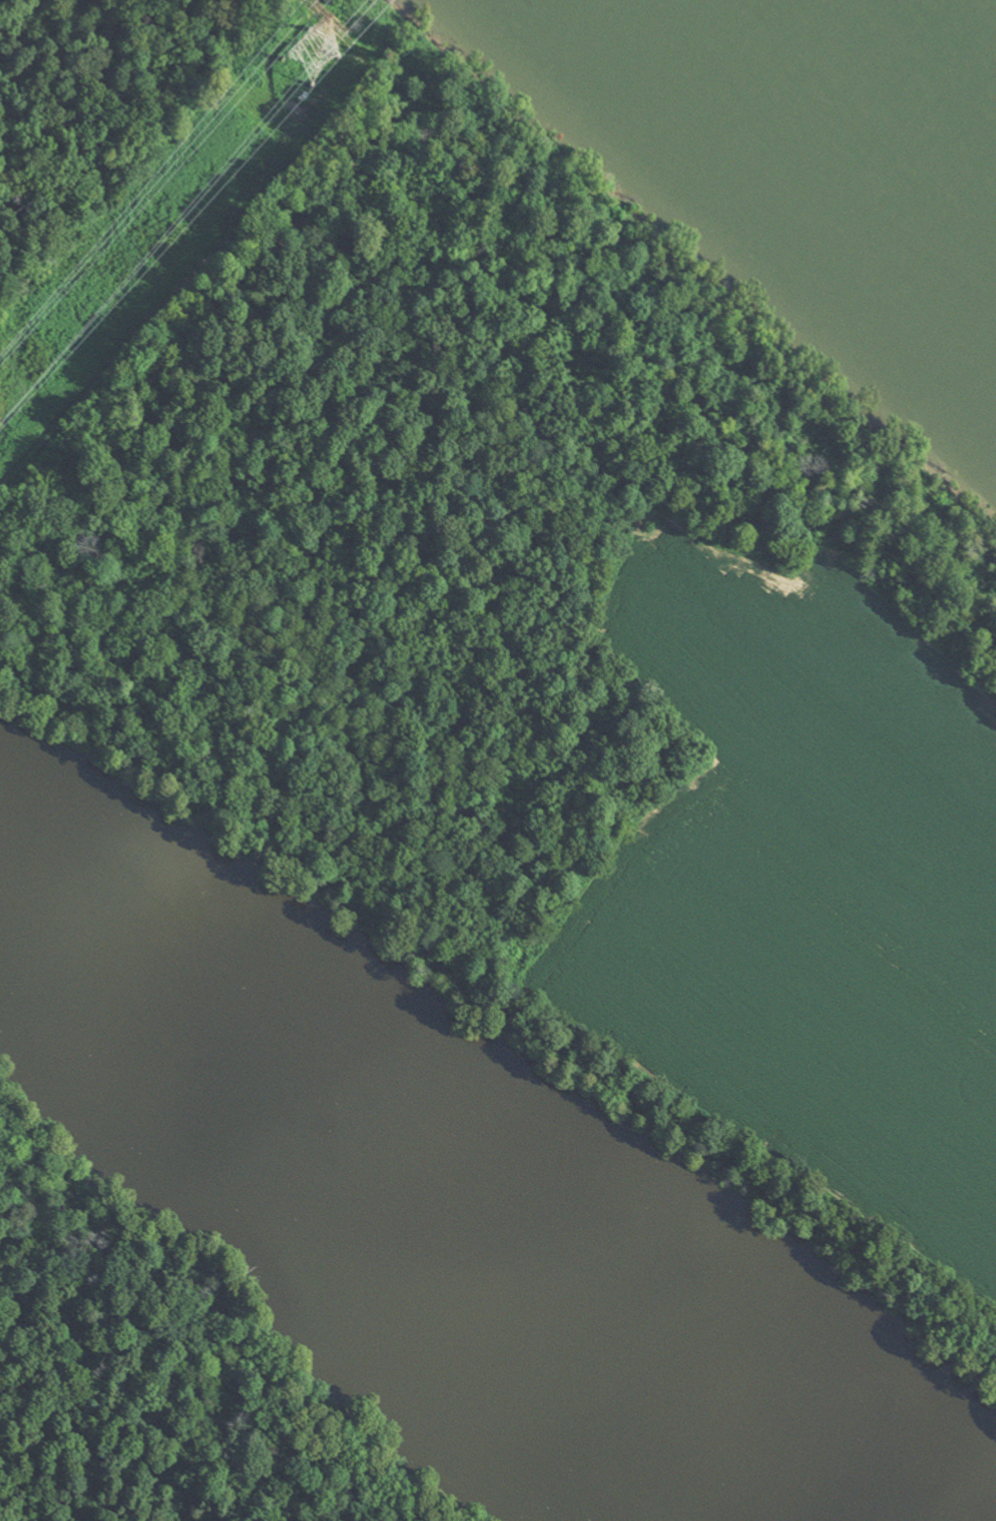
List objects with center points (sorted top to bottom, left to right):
power tower: (323, 57)

